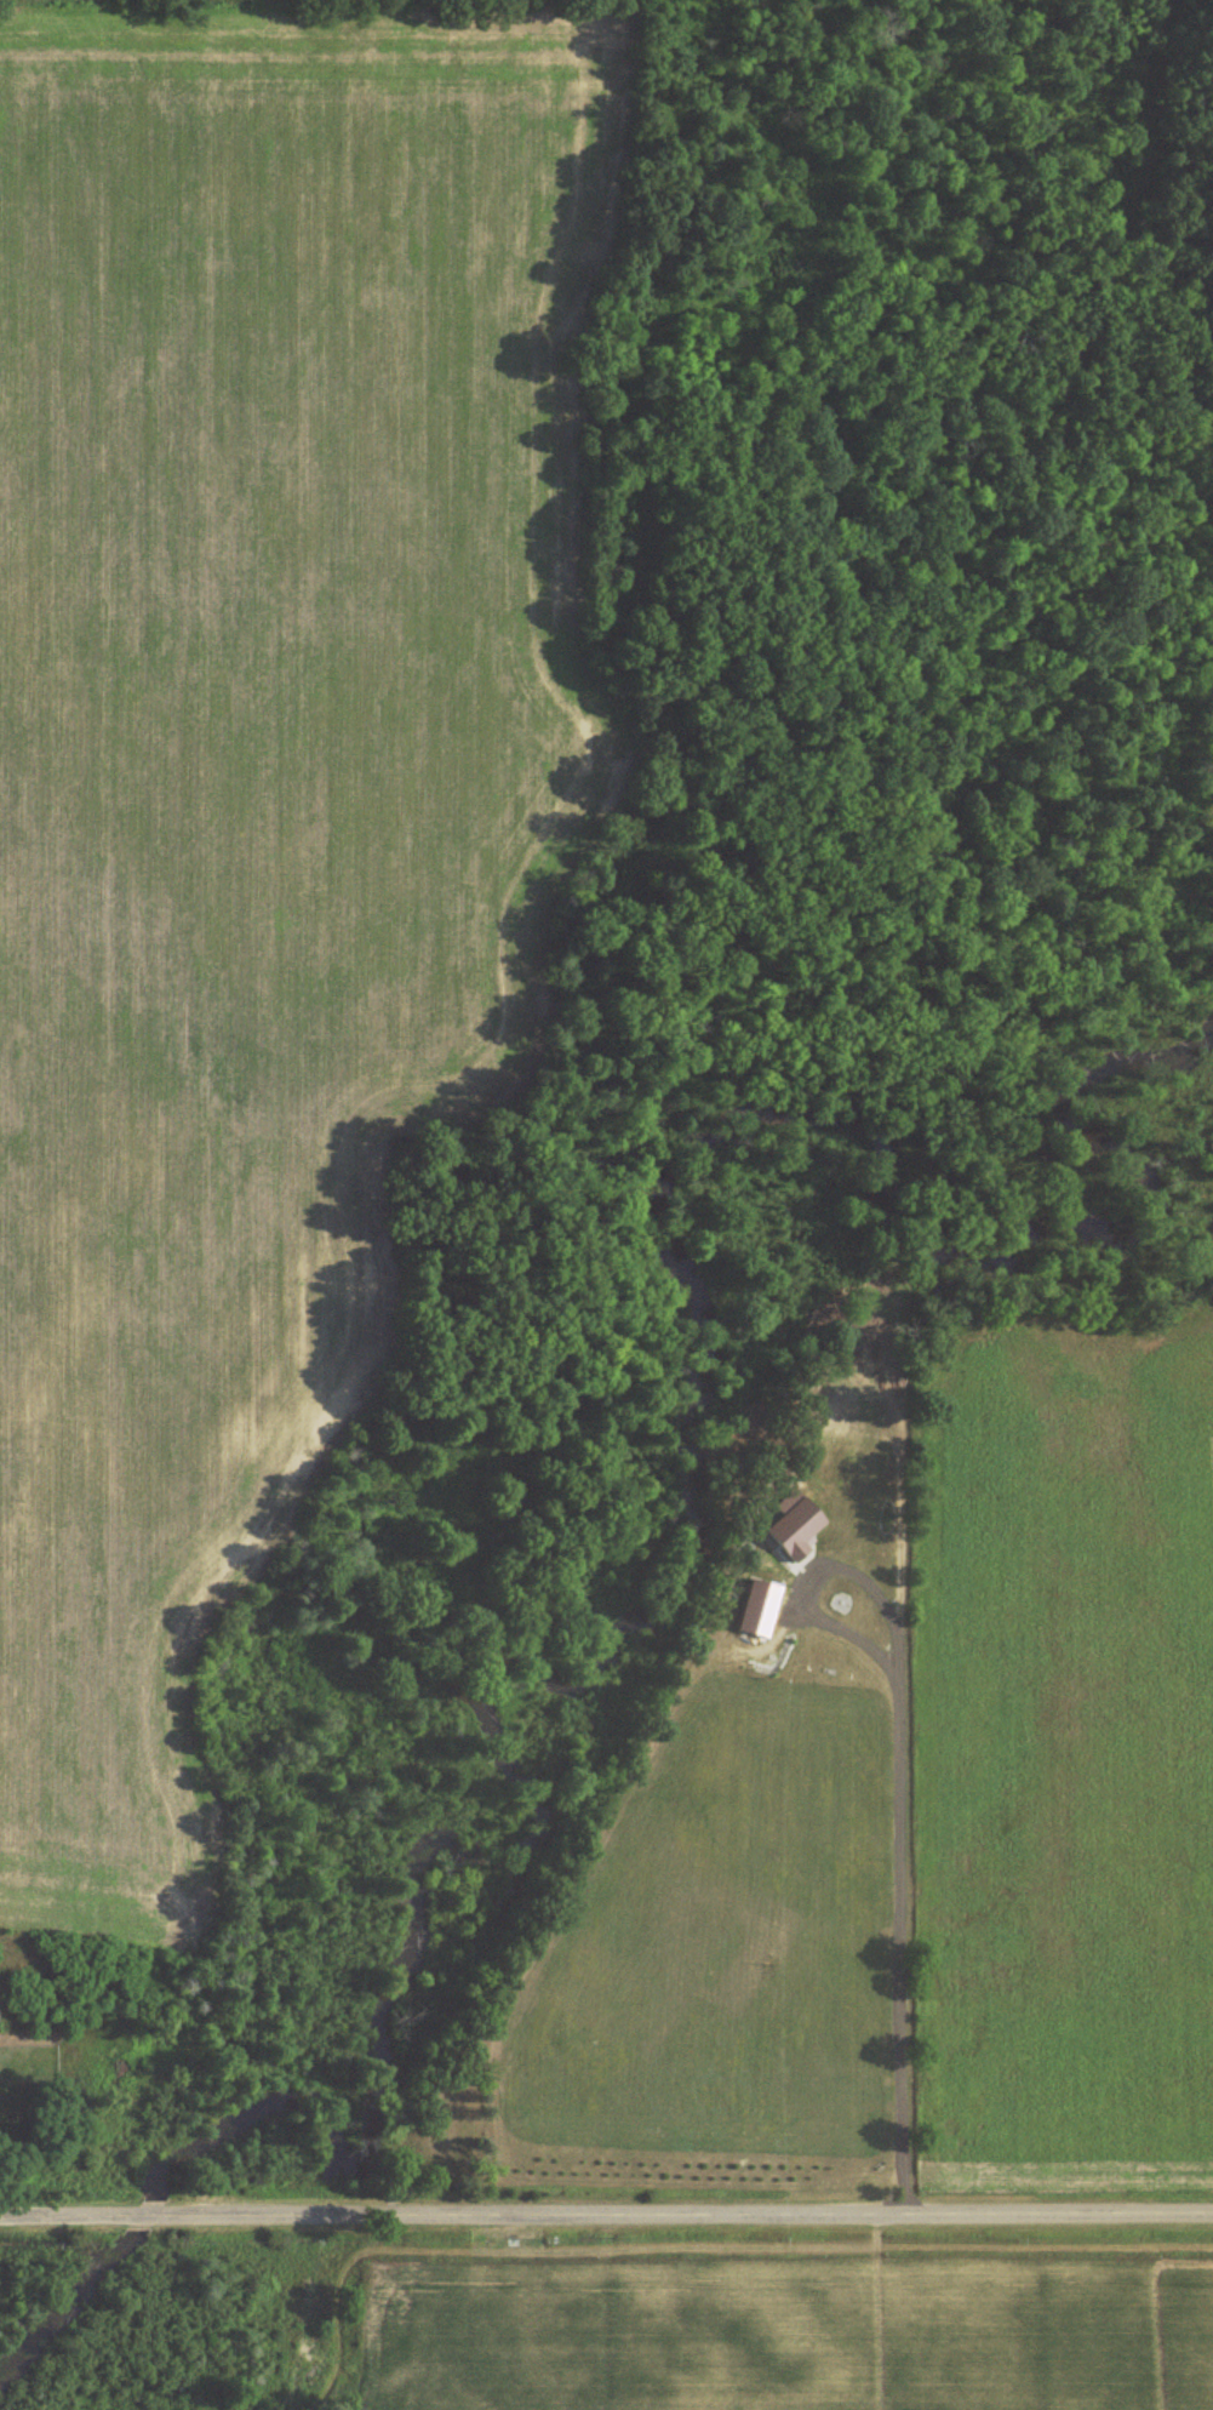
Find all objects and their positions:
road: (606, 2216)

